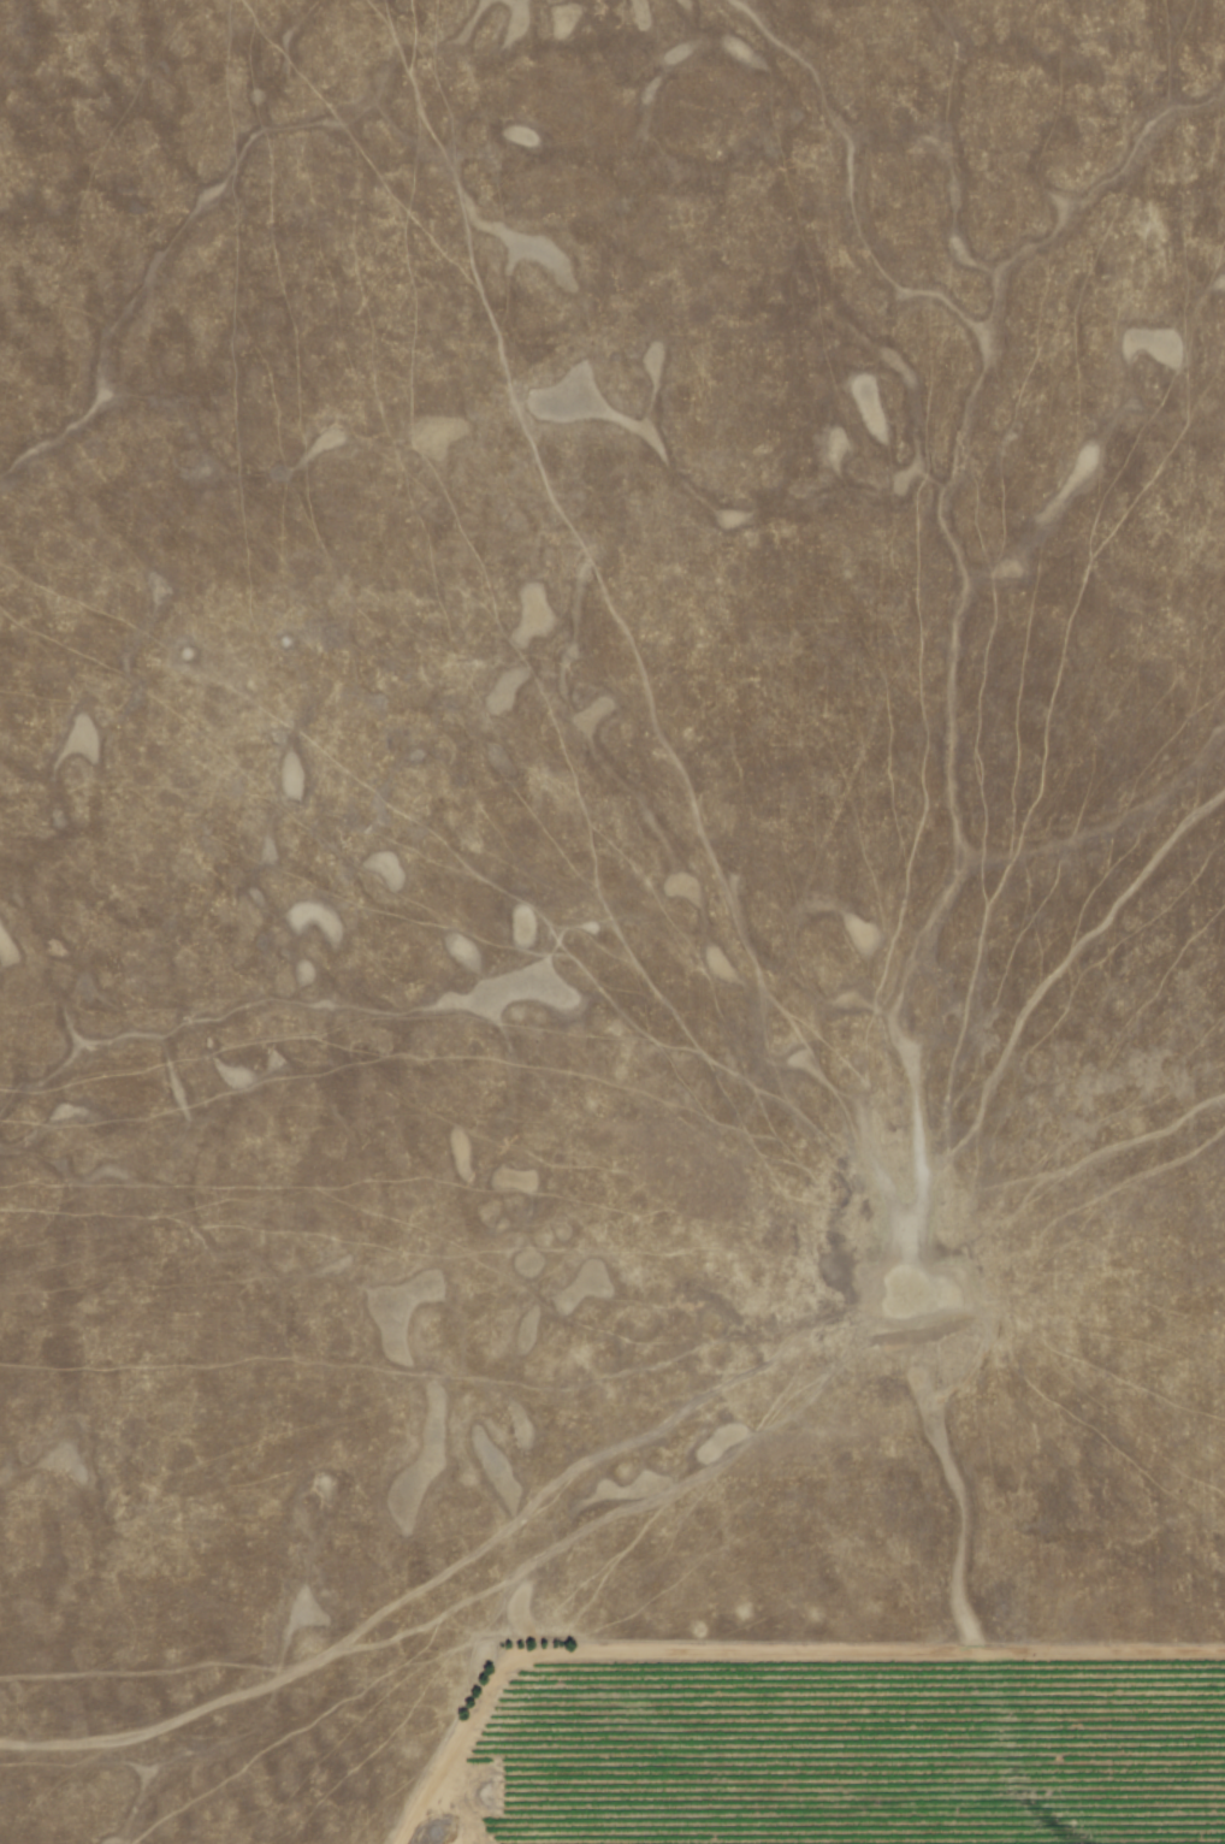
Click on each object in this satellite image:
crop: (824, 1742)

